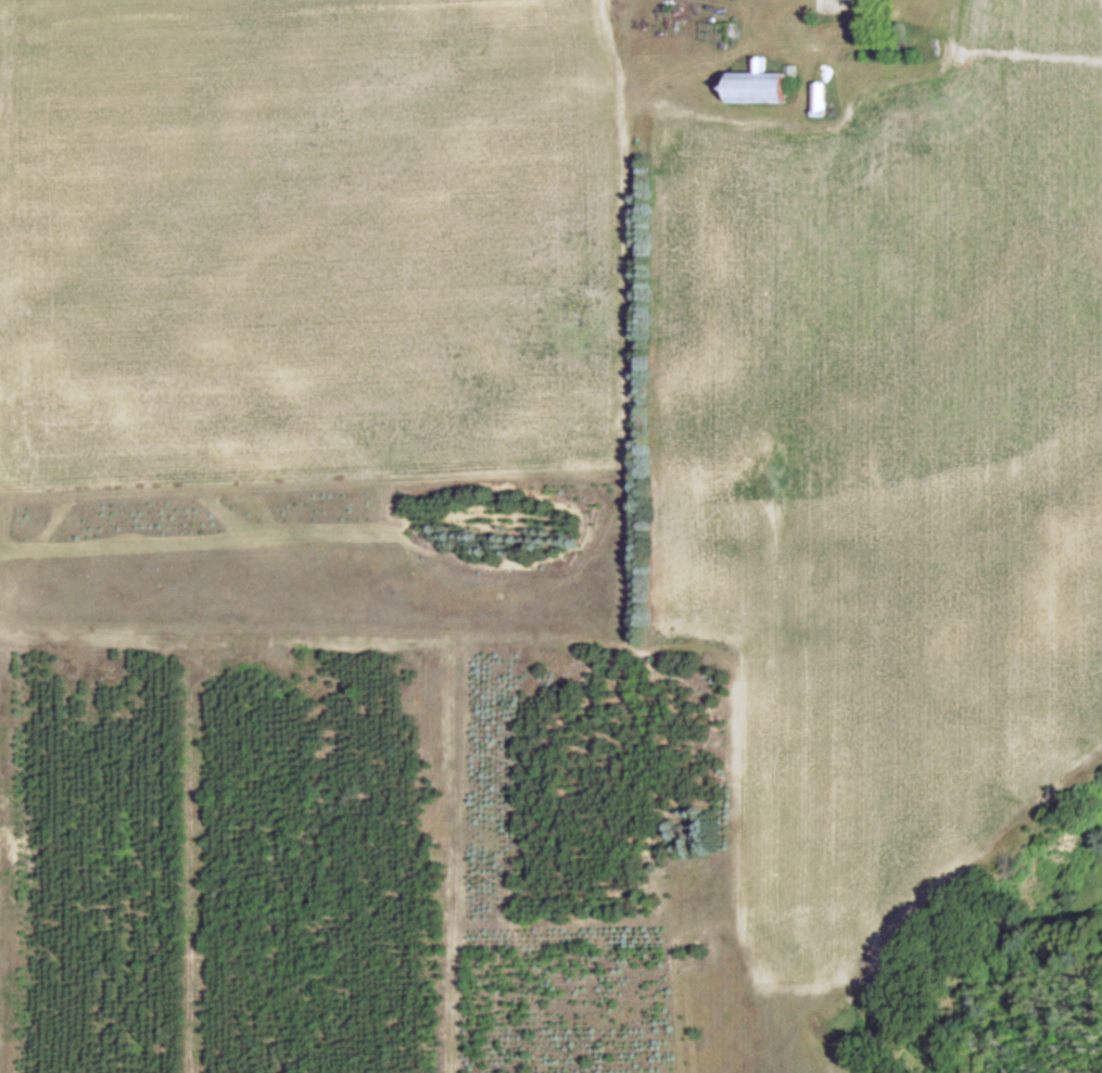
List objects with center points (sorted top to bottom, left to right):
building: (755, 85)
building: (819, 98)

